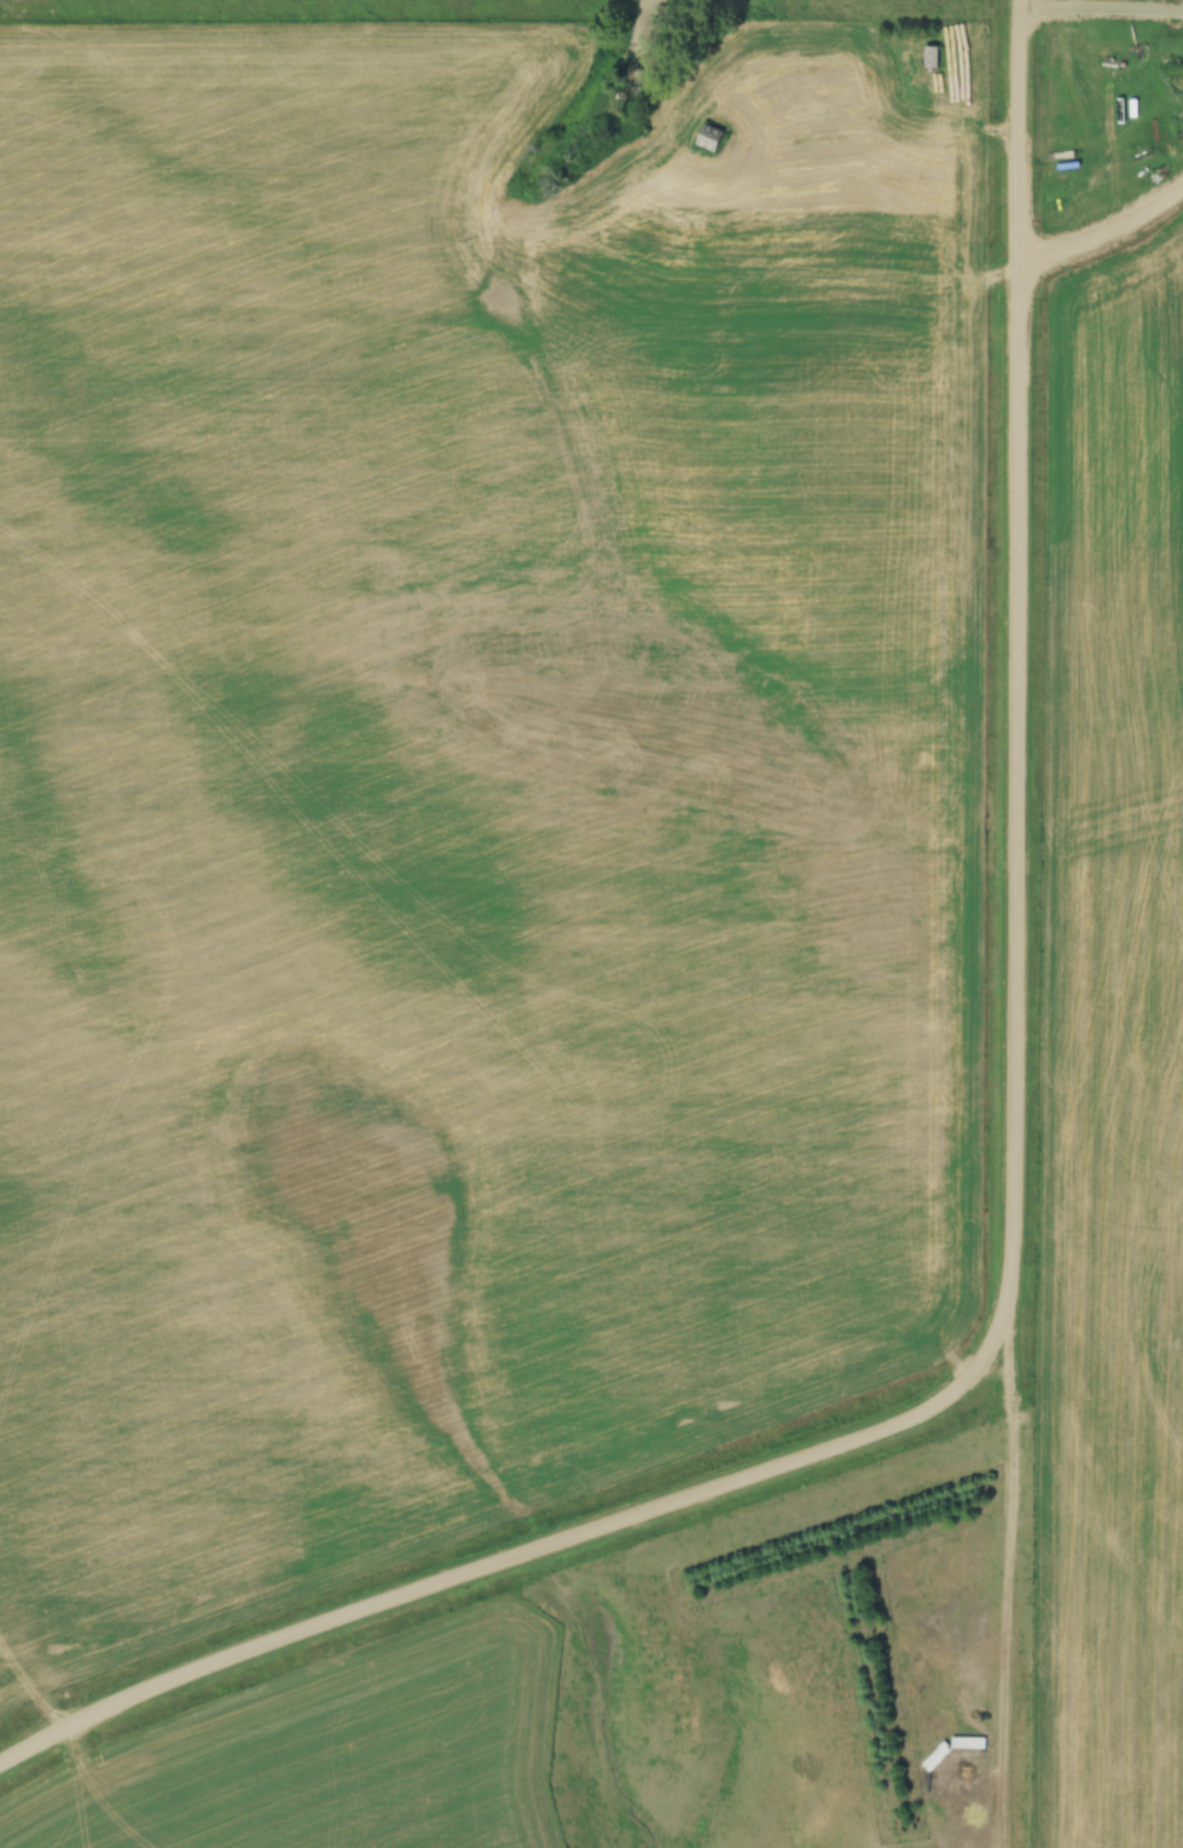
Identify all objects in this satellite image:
road: (1102, 6)
building: (936, 56)
building: (714, 137)
road: (1106, 243)
road: (1013, 1221)

